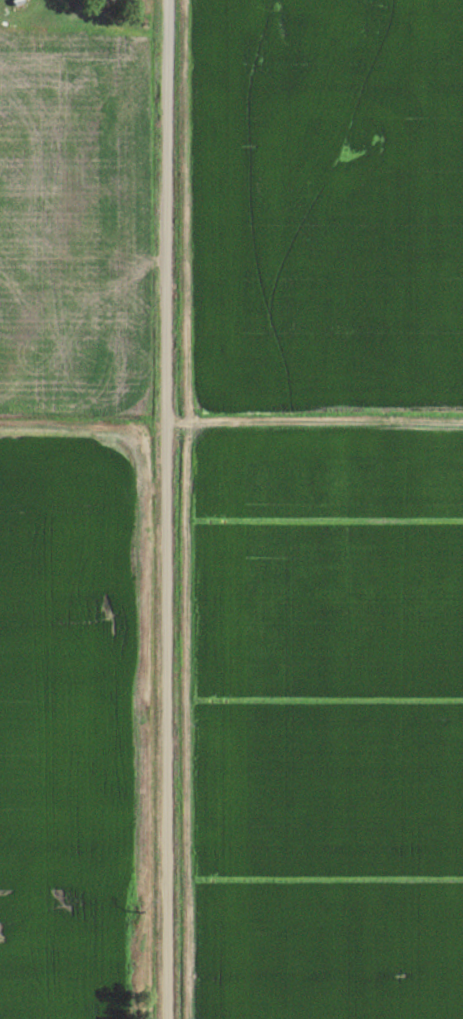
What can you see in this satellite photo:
building: (113, 1)
road: (165, 509)

